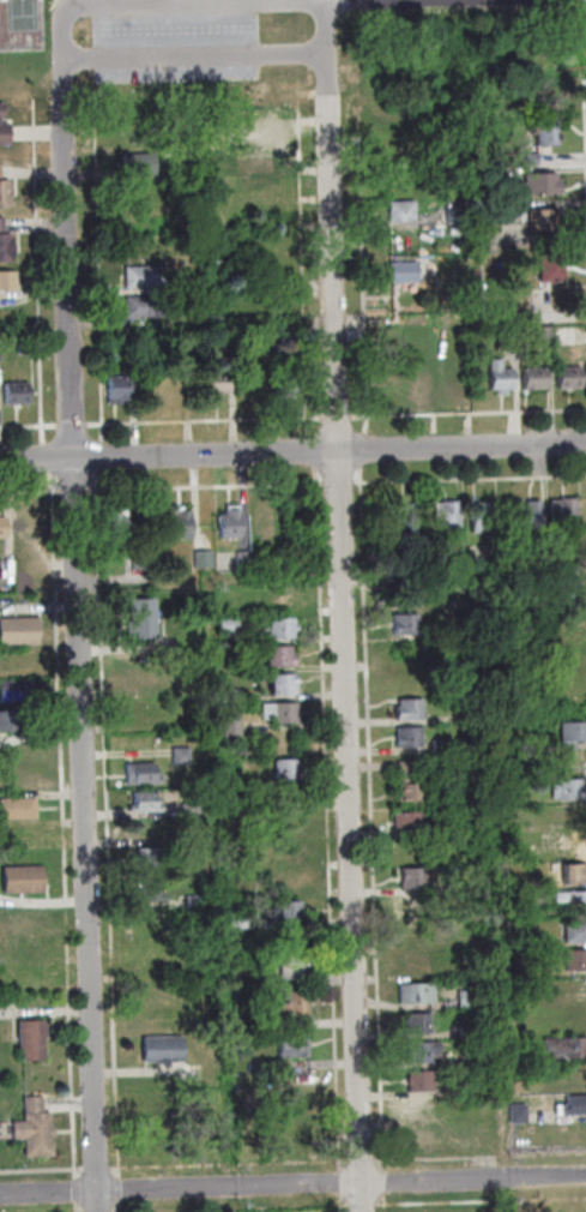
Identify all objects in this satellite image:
road: (79, 2)
road: (179, 2)
park: (20, 23)
parking lot: (176, 41)
park: (282, 42)
road: (64, 46)
road: (327, 48)
road: (195, 56)
road: (582, 84)
building: (495, 101)
road: (313, 121)
building: (4, 127)
building: (549, 128)
road: (49, 132)
building: (258, 137)
road: (346, 142)
road: (83, 152)
building: (400, 154)
building: (266, 160)
building: (531, 160)
building: (140, 164)
building: (494, 178)
building: (544, 185)
building: (5, 191)
building: (261, 191)
building: (403, 212)
building: (457, 216)
building: (544, 221)
building: (6, 245)
building: (552, 268)
building: (405, 272)
building: (145, 277)
road: (304, 278)
building: (10, 282)
road: (40, 289)
road: (364, 289)
road: (101, 298)
building: (146, 307)
building: (544, 334)
building: (513, 337)
building: (292, 340)
building: (415, 341)
building: (1, 347)
building: (30, 349)
building: (502, 377)
building: (572, 378)
building: (451, 379)
building: (537, 379)
building: (252, 382)
building: (421, 383)
building: (219, 384)
building: (286, 385)
building: (120, 391)
building: (18, 395)
road: (470, 414)
road: (338, 418)
road: (206, 422)
road: (74, 426)
road: (30, 427)
road: (292, 451)
road: (314, 452)
road: (363, 452)
road: (101, 457)
road: (48, 461)
road: (471, 480)
road: (339, 484)
road: (206, 487)
road: (31, 492)
road: (75, 492)
building: (566, 511)
building: (449, 516)
building: (532, 516)
building: (482, 518)
building: (406, 520)
building: (30, 523)
building: (232, 523)
building: (182, 524)
building: (266, 524)
building: (119, 527)
building: (4, 529)
building: (460, 556)
building: (141, 560)
building: (205, 560)
building: (277, 560)
building: (244, 562)
building: (10, 569)
building: (567, 592)
building: (144, 620)
building: (407, 624)
building: (230, 625)
building: (282, 629)
building: (20, 632)
building: (561, 641)
road: (80, 652)
road: (344, 654)
building: (282, 658)
building: (16, 661)
building: (567, 674)
building: (404, 679)
building: (145, 680)
building: (284, 685)
building: (198, 691)
building: (18, 694)
building: (232, 697)
building: (411, 709)
building: (141, 712)
building: (282, 713)
building: (14, 722)
building: (232, 726)
building: (411, 737)
building: (573, 737)
building: (443, 745)
building: (182, 757)
building: (289, 769)
building: (540, 770)
building: (143, 775)
building: (16, 781)
building: (410, 784)
building: (260, 788)
building: (569, 790)
building: (146, 804)
building: (19, 810)
building: (192, 810)
building: (570, 816)
road: (328, 820)
road: (373, 820)
building: (410, 823)
road: (108, 824)
building: (285, 826)
road: (65, 827)
building: (479, 830)
building: (149, 832)
building: (194, 839)
building: (285, 852)
building: (152, 859)
building: (207, 869)
building: (575, 874)
building: (415, 881)
building: (24, 882)
building: (288, 883)
building: (238, 892)
building: (152, 893)
building: (576, 901)
building: (195, 902)
building: (416, 906)
building: (289, 912)
building: (238, 923)
building: (576, 932)
building: (421, 934)
building: (576, 961)
building: (415, 964)
building: (296, 968)
building: (418, 995)
building: (469, 1000)
building: (295, 1010)
building: (578, 1016)
building: (419, 1024)
building: (470, 1033)
building: (34, 1043)
building: (295, 1048)
building: (566, 1049)
building: (164, 1051)
building: (421, 1052)
building: (472, 1061)
building: (254, 1069)
building: (573, 1074)
building: (422, 1082)
building: (454, 1091)
building: (574, 1108)
building: (425, 1109)
building: (520, 1115)
building: (161, 1126)
building: (36, 1132)
building: (424, 1140)
building: (294, 1145)
road: (481, 1158)
road: (362, 1162)
road: (230, 1165)
road: (42, 1170)
road: (98, 1170)
road: (386, 1183)
road: (292, 1184)
road: (342, 1184)
road: (121, 1190)
road: (78, 1192)
road: (482, 1201)
road: (386, 1204)
road: (343, 1205)
road: (364, 1205)
road: (348, 1206)
building: (579, 1206)
road: (121, 1207)
road: (79, 1208)
building: (471, 1210)
building: (419, 1211)

